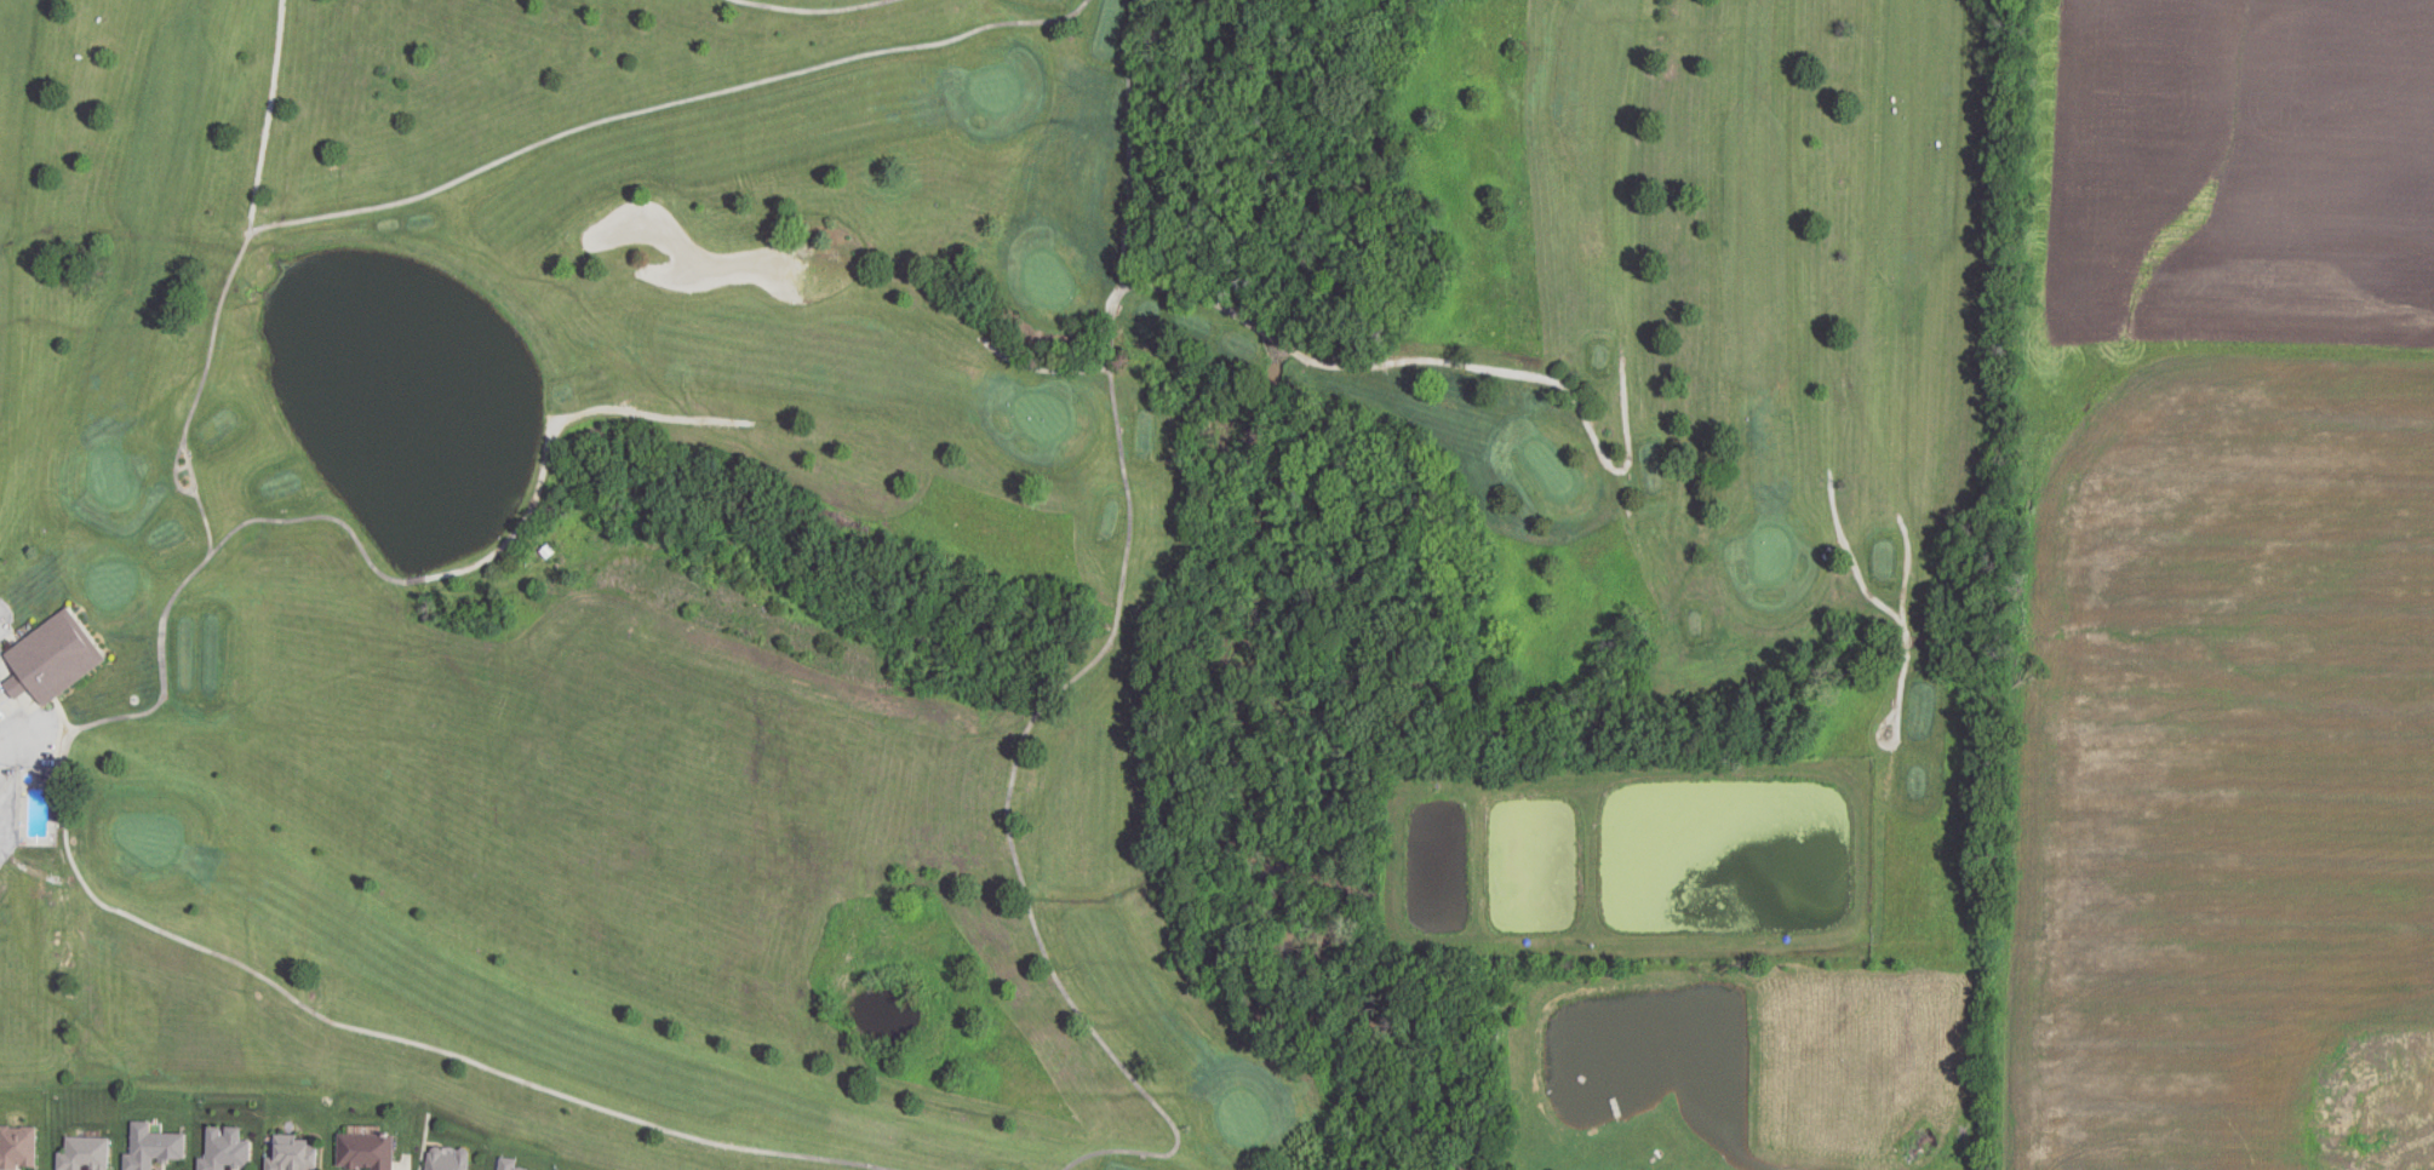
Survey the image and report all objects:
crop: (2212, 189)
park: (888, 505)
building: (548, 551)
building: (51, 659)
crop: (2213, 757)
building: (18, 1146)
building: (151, 1146)
building: (365, 1149)
building: (225, 1151)
building: (84, 1153)
building: (292, 1154)
building: (446, 1160)
building: (508, 1164)

